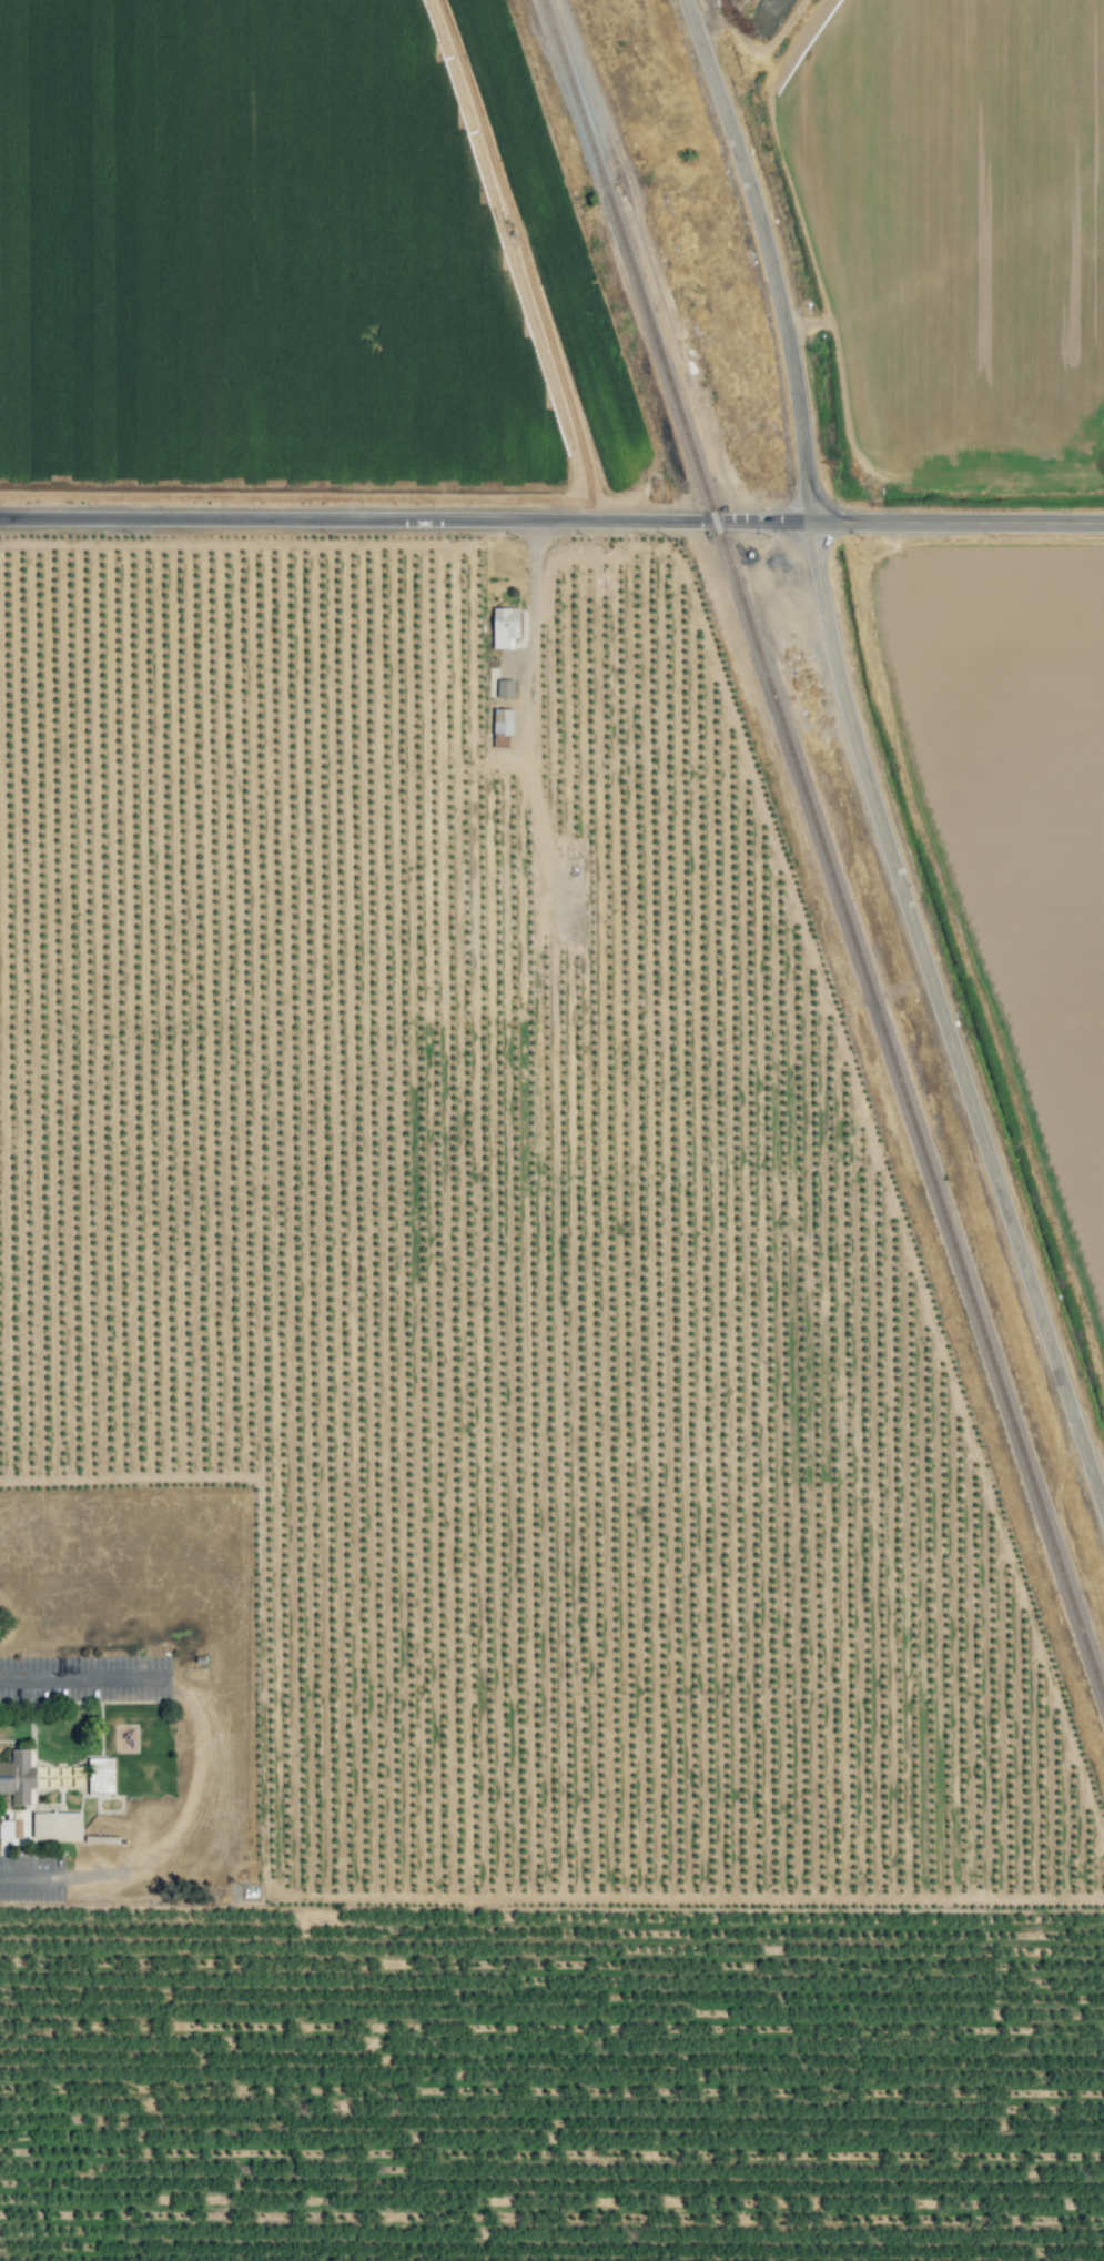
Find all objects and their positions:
road: (551, 521)
road: (530, 618)
building: (505, 626)
building: (505, 688)
road: (865, 743)
railway: (823, 849)
crop: (452, 1279)
road: (81, 1675)
building: (18, 1776)
building: (101, 1776)
building: (57, 1826)
building: (10, 1828)
road: (26, 1875)

